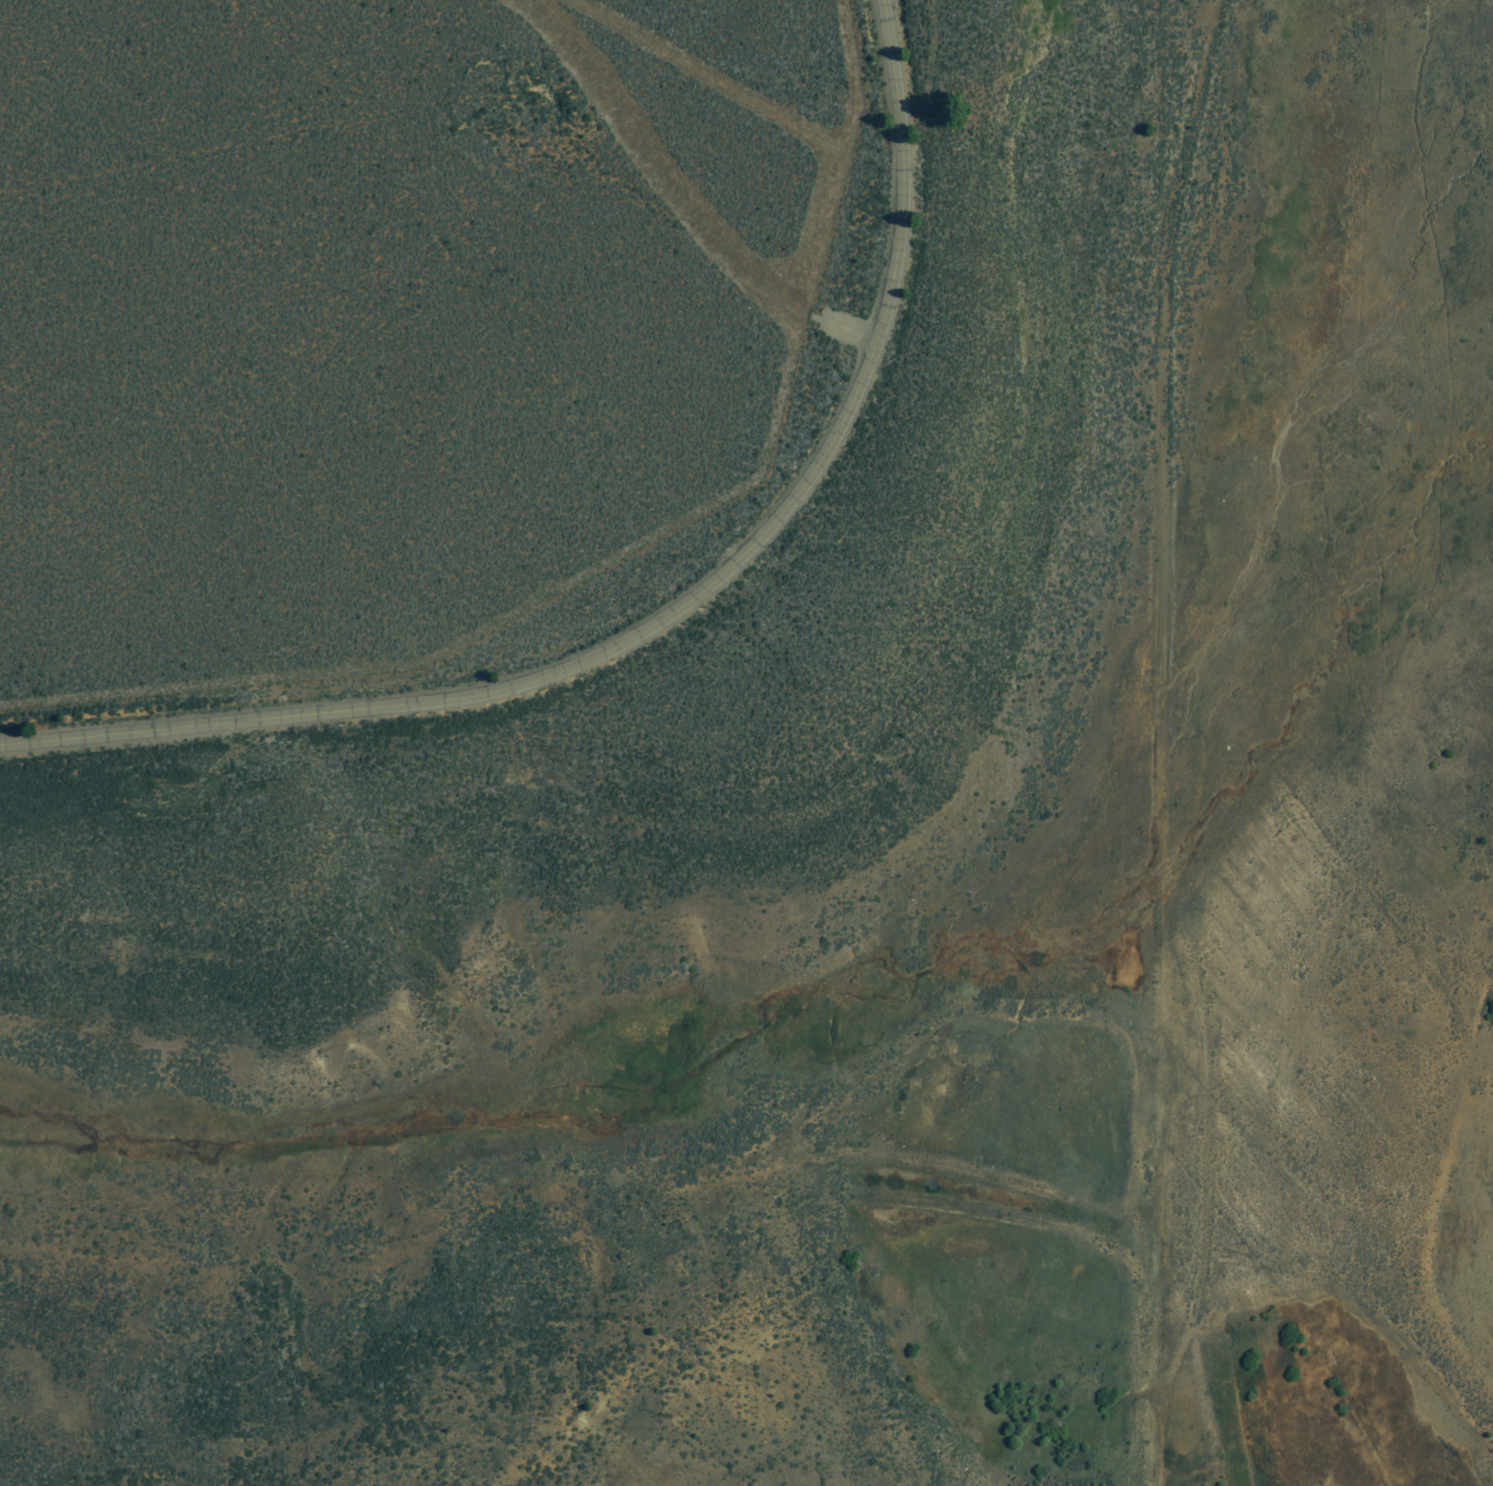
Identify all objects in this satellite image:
airport: (385, 307)
road: (669, 612)

